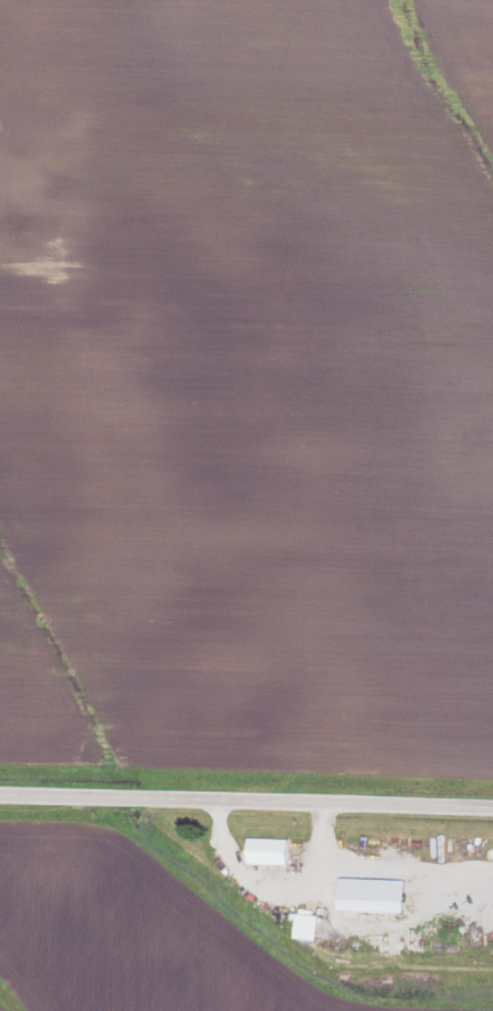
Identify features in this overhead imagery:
road: (246, 800)
building: (268, 853)
building: (306, 928)
building: (482, 952)

